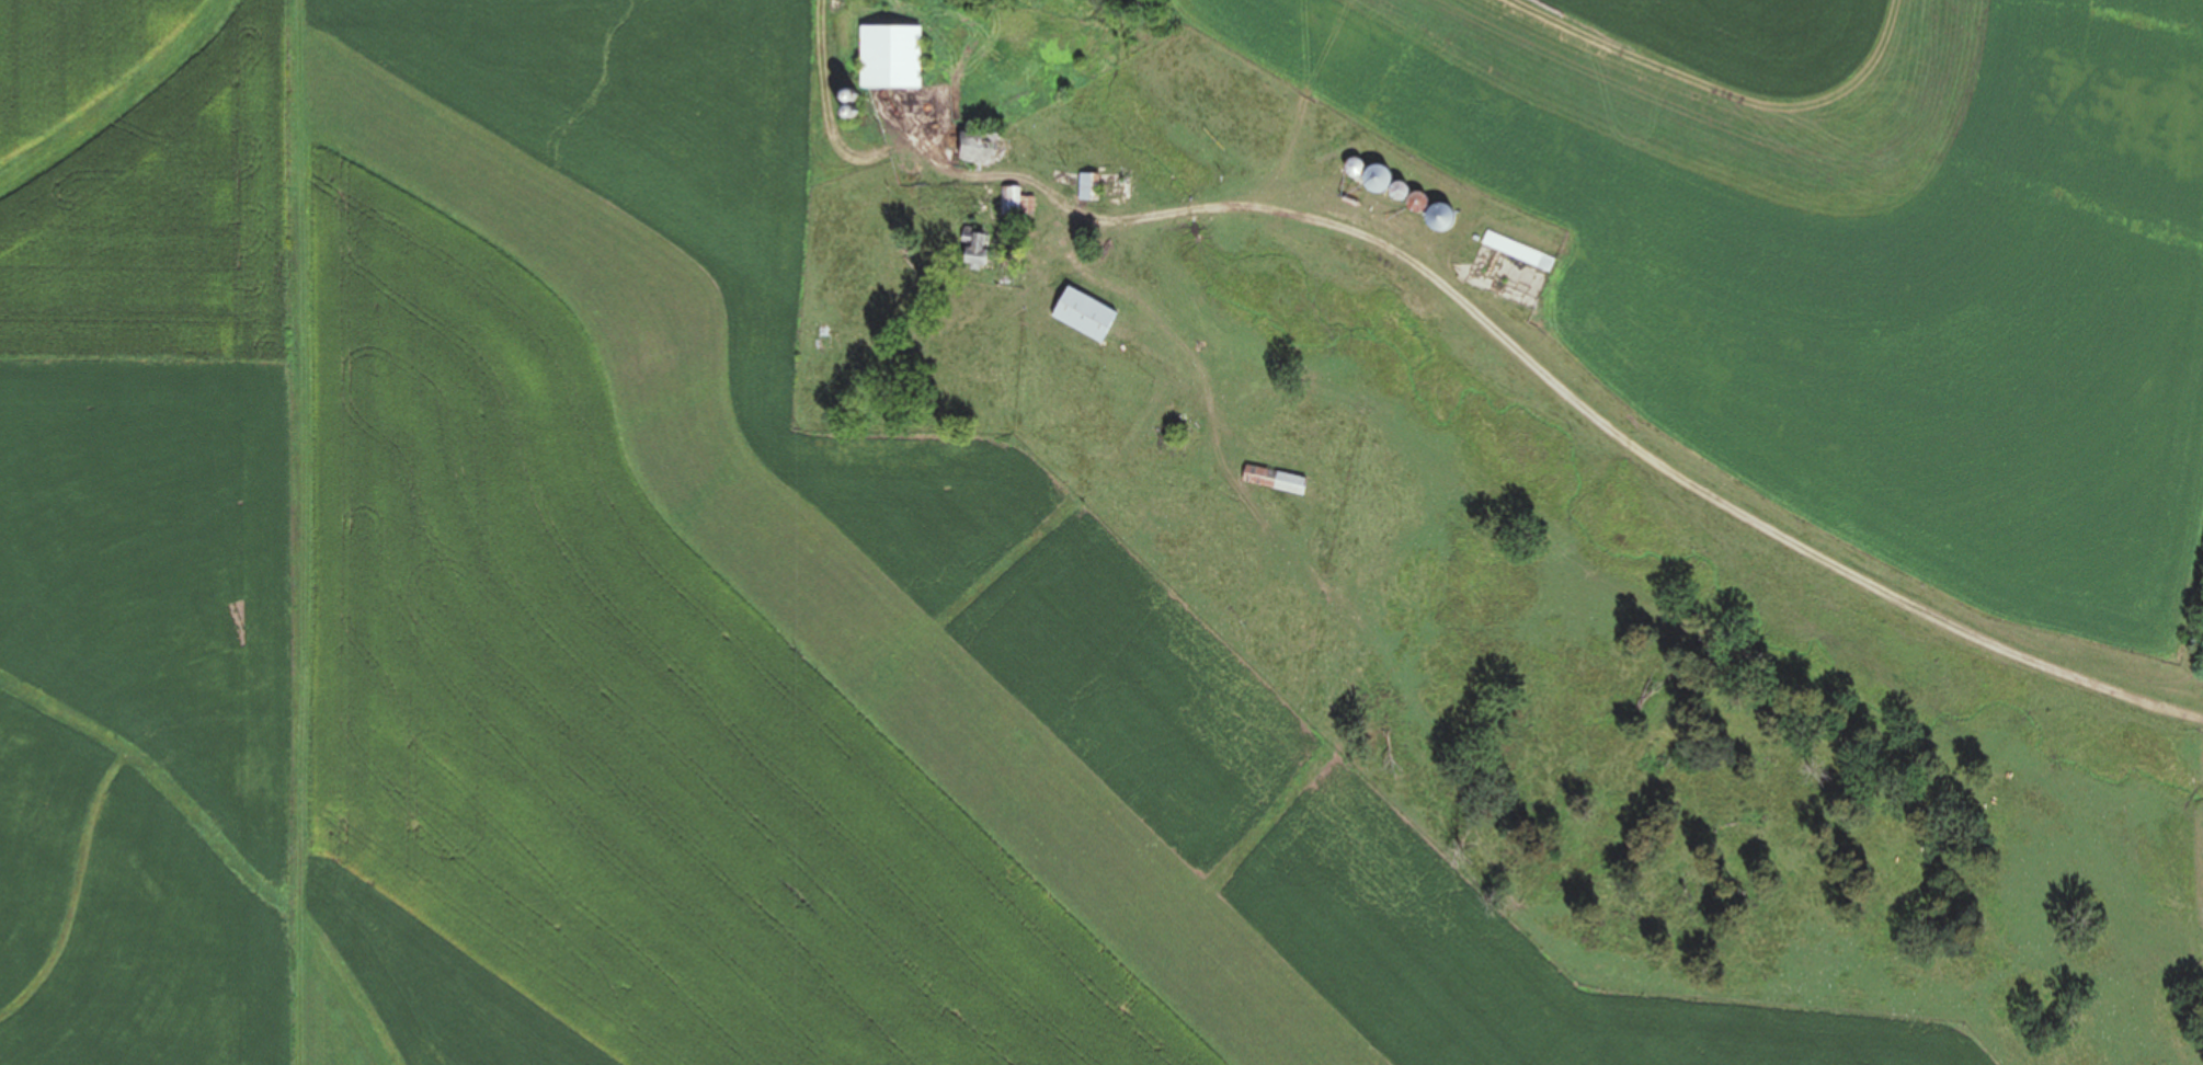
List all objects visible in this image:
building: (888, 57)
building: (974, 145)
building: (1087, 187)
building: (1013, 202)
building: (974, 249)
building: (1518, 252)
building: (1082, 314)
road: (1610, 416)

